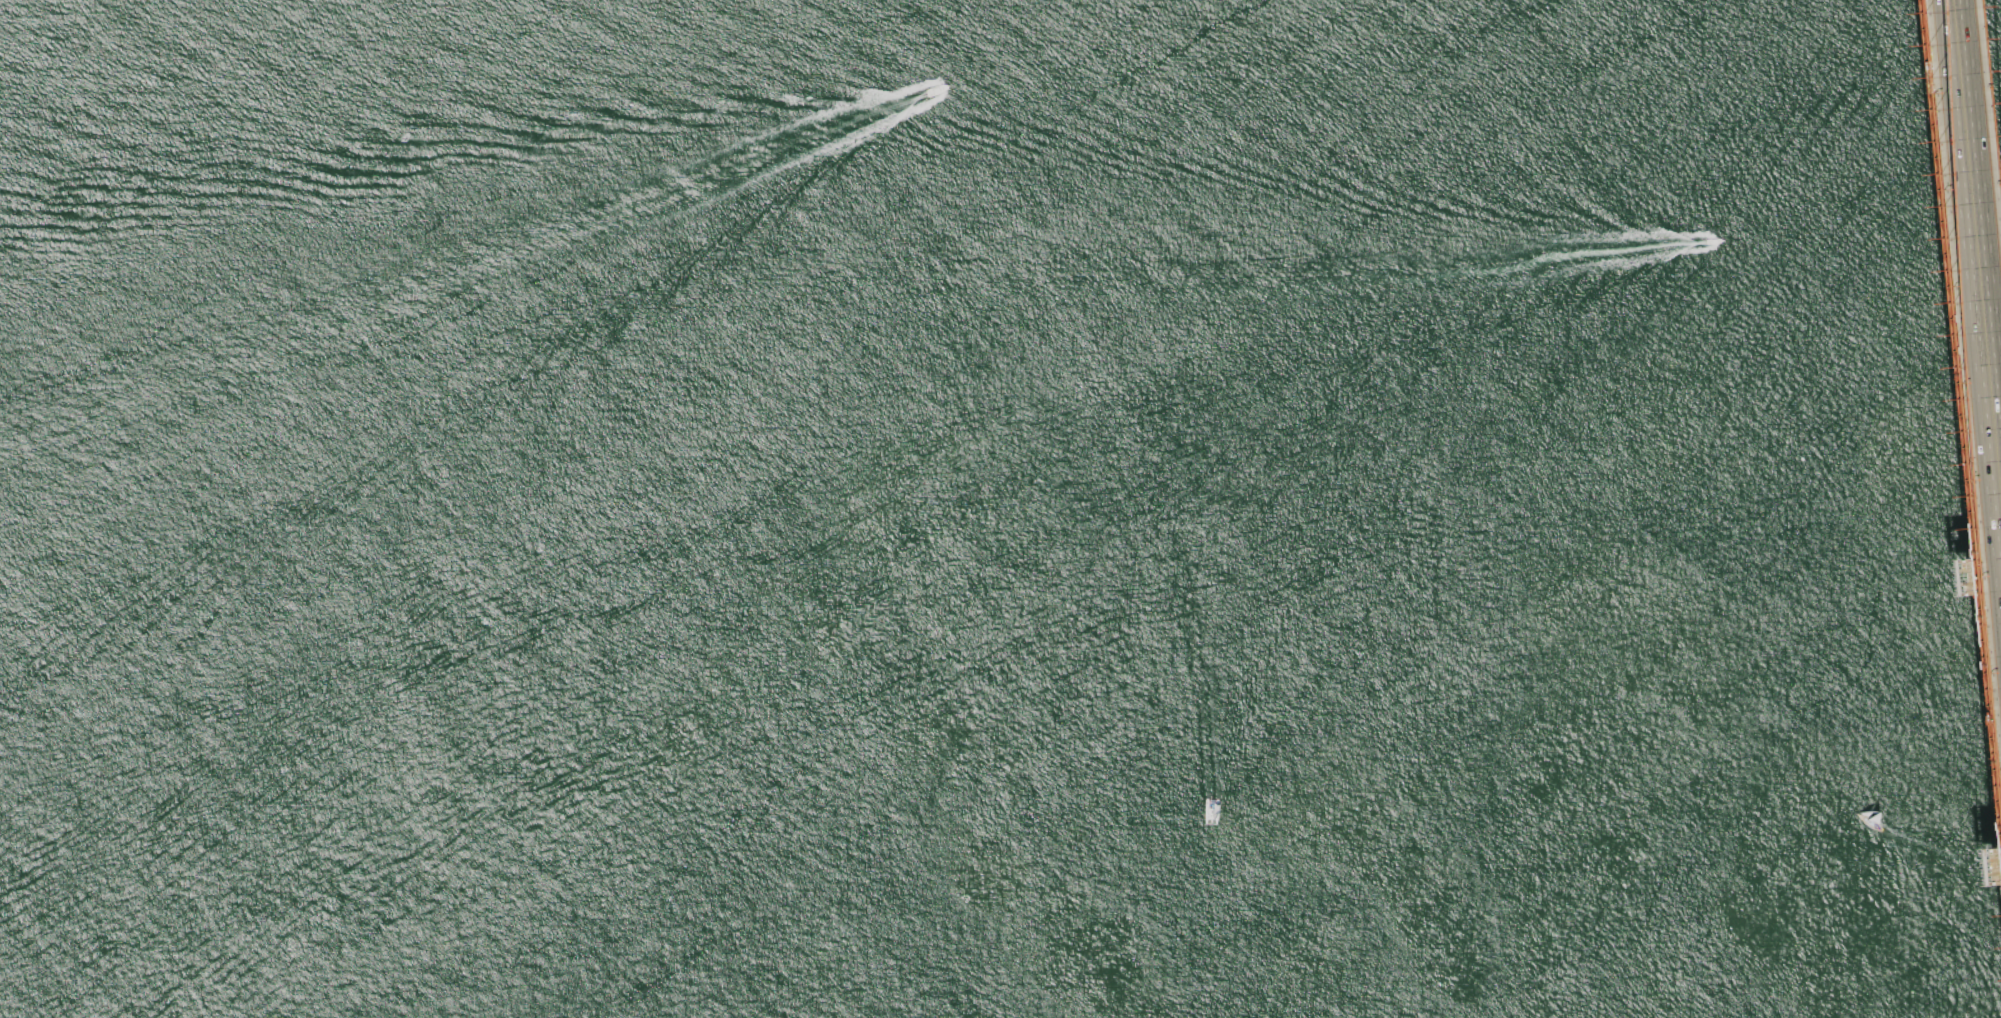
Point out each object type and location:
road: (1968, 347)
road: (1960, 435)
road: (1933, 509)
road: (1948, 509)

